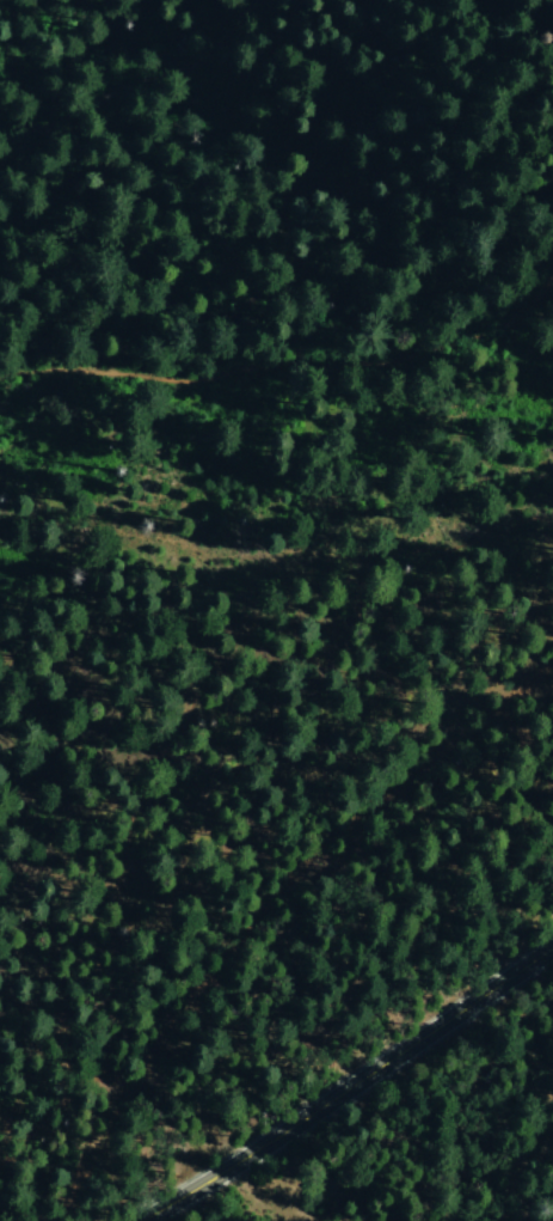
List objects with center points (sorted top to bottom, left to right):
road: (134, 80)
road: (302, 367)
road: (268, 896)
road: (348, 1086)
road: (474, 1167)

